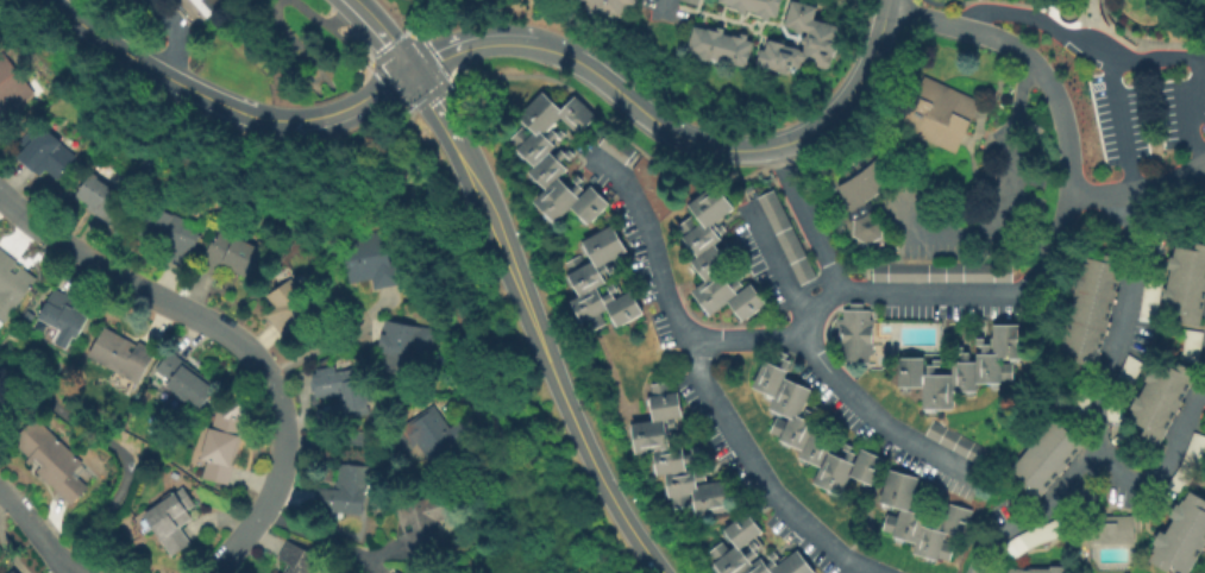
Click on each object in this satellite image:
building: (693, 1)
road: (885, 2)
road: (663, 5)
road: (904, 5)
building: (758, 6)
building: (609, 7)
building: (195, 10)
road: (409, 17)
road: (1042, 20)
road: (280, 23)
road: (322, 24)
road: (1065, 25)
road: (378, 33)
road: (175, 34)
road: (484, 37)
building: (803, 42)
road: (351, 46)
building: (722, 46)
road: (1155, 58)
road: (144, 65)
road: (313, 65)
traffic signals: (409, 70)
road: (301, 71)
road: (314, 78)
building: (11, 88)
road: (848, 90)
road: (431, 102)
road: (408, 107)
road: (1192, 111)
building: (935, 112)
parking lot: (1147, 113)
road: (334, 114)
road: (660, 126)
road: (613, 127)
road: (1123, 127)
road: (993, 133)
road: (364, 145)
building: (617, 147)
road: (356, 150)
building: (43, 152)
building: (557, 157)
road: (378, 159)
building: (867, 188)
road: (1141, 194)
building: (99, 197)
road: (807, 219)
road: (1024, 231)
building: (169, 233)
road: (949, 234)
building: (786, 237)
building: (230, 256)
building: (717, 257)
building: (370, 260)
road: (777, 265)
road: (1038, 267)
building: (942, 272)
building: (601, 282)
building: (12, 284)
building: (1187, 284)
building: (1151, 297)
building: (288, 308)
building: (1092, 308)
building: (26, 317)
building: (62, 319)
road: (1118, 322)
building: (856, 334)
road: (231, 336)
building: (1192, 345)
building: (403, 347)
building: (119, 355)
road: (478, 358)
road: (545, 359)
building: (966, 367)
building: (1128, 372)
building: (184, 380)
road: (703, 382)
road: (1203, 382)
building: (1082, 392)
building: (356, 396)
building: (1162, 398)
building: (1116, 408)
road: (872, 410)
building: (811, 430)
building: (434, 440)
building: (222, 441)
building: (956, 441)
road: (109, 446)
building: (677, 456)
building: (1048, 456)
building: (51, 460)
building: (1188, 464)
road: (1163, 465)
building: (344, 492)
road: (1033, 511)
building: (921, 518)
building: (170, 521)
building: (423, 524)
road: (34, 529)
building: (1110, 529)
road: (313, 535)
building: (1036, 536)
building: (1182, 537)
road: (379, 552)
building: (753, 552)
building: (297, 560)
road: (372, 565)
road: (512, 567)
road: (522, 567)
road: (79, 568)
building: (11, 571)
building: (1041, 571)
building: (393, 572)
building: (396, 572)

